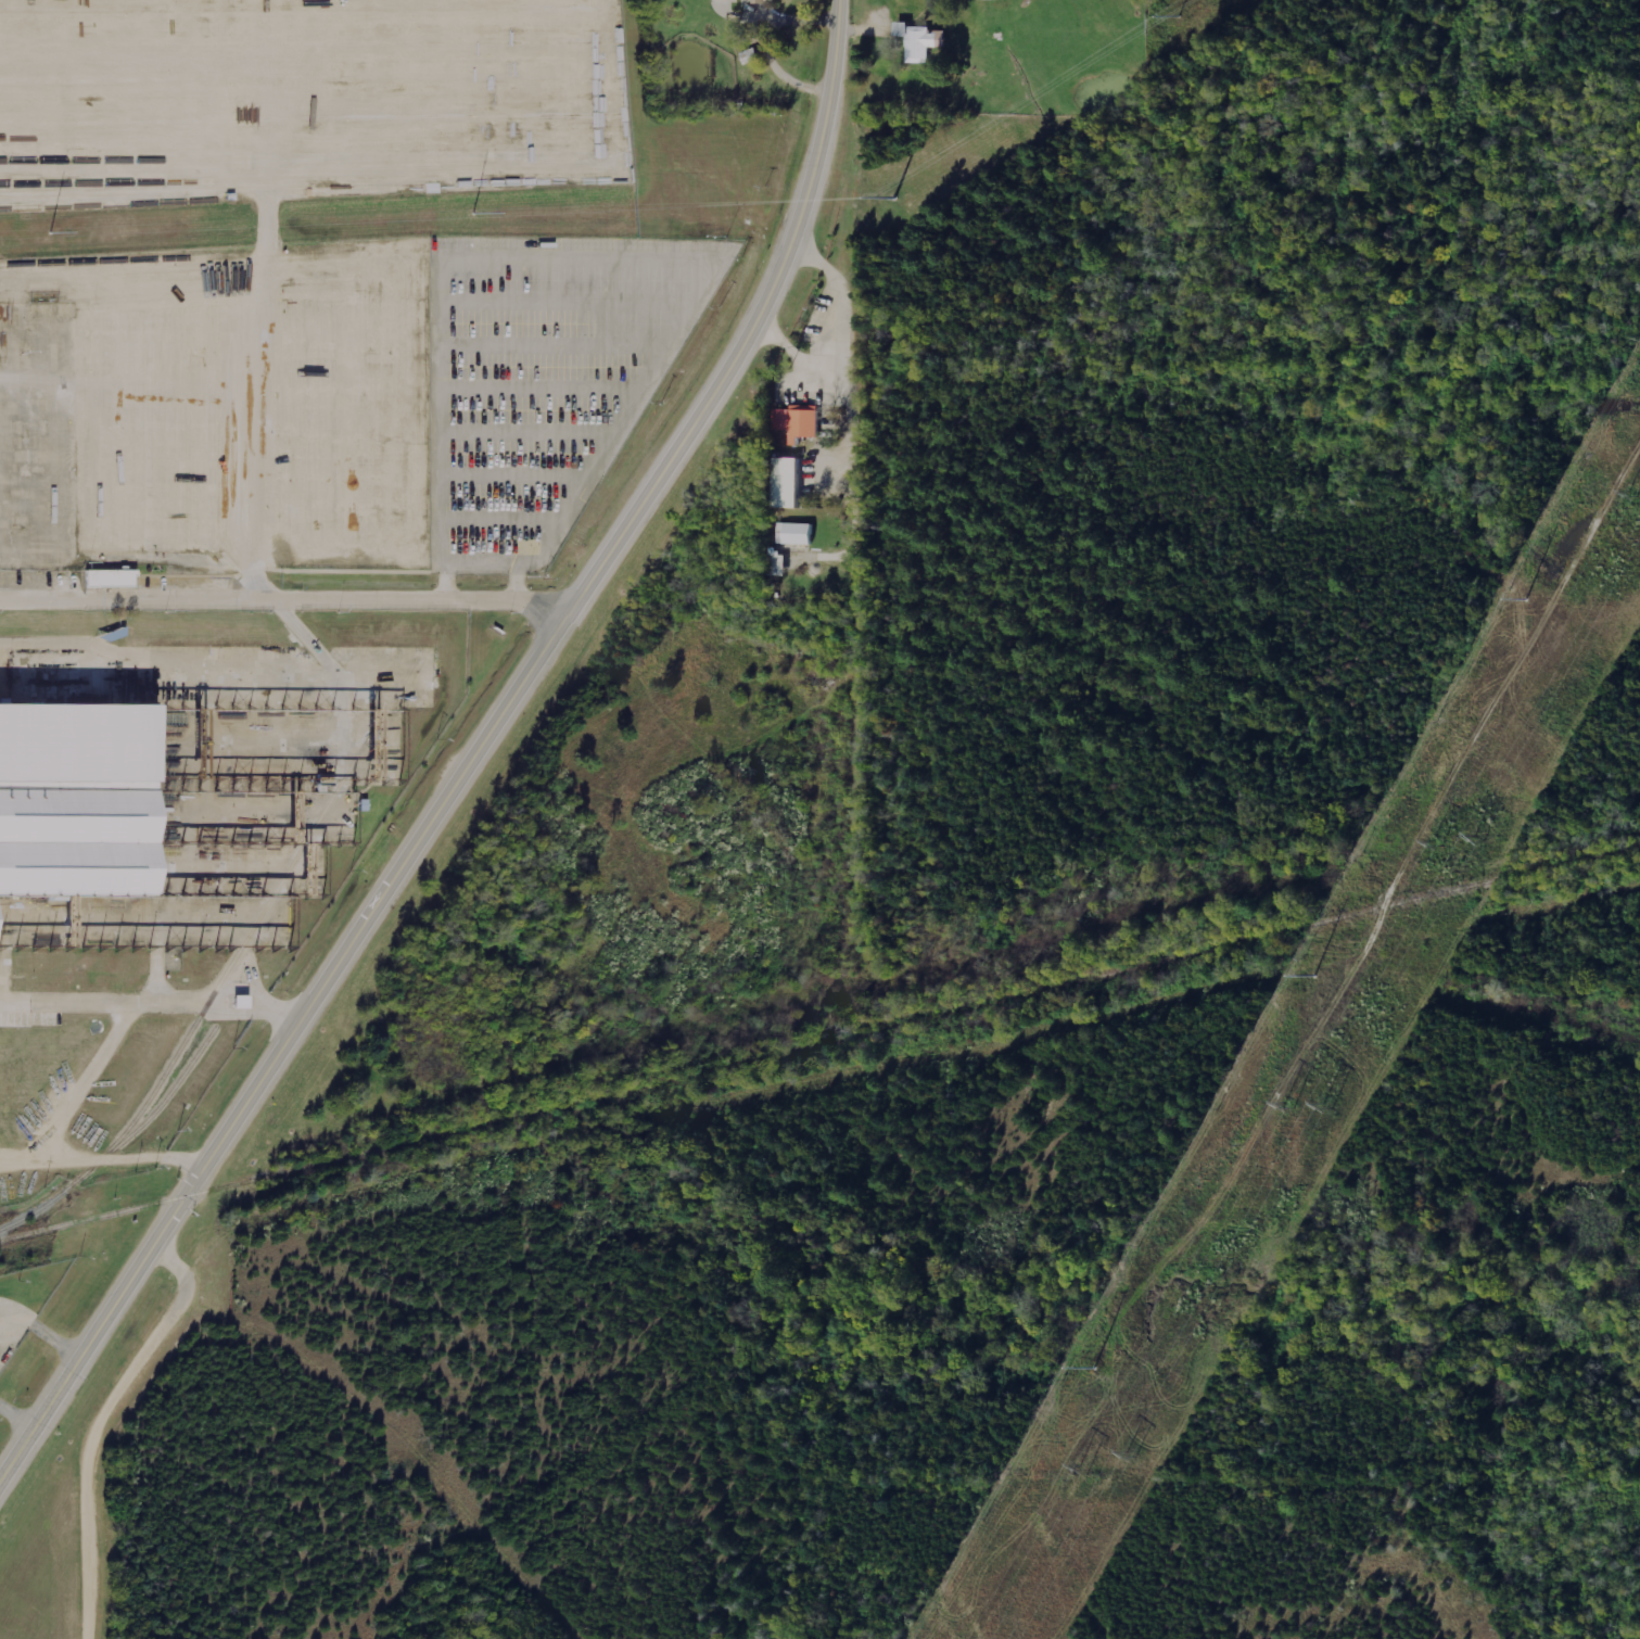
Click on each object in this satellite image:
building: (984, 0)
building: (726, 1)
building: (762, 1)
building: (923, 41)
building: (800, 423)
building: (790, 482)
building: (798, 533)
building: (780, 564)
building: (114, 579)
road: (474, 761)
building: (72, 801)
railway: (265, 909)
building: (245, 1003)
railway: (821, 1046)
railway: (169, 1094)
railway: (47, 1203)
road: (41, 1331)
road: (15, 1418)

